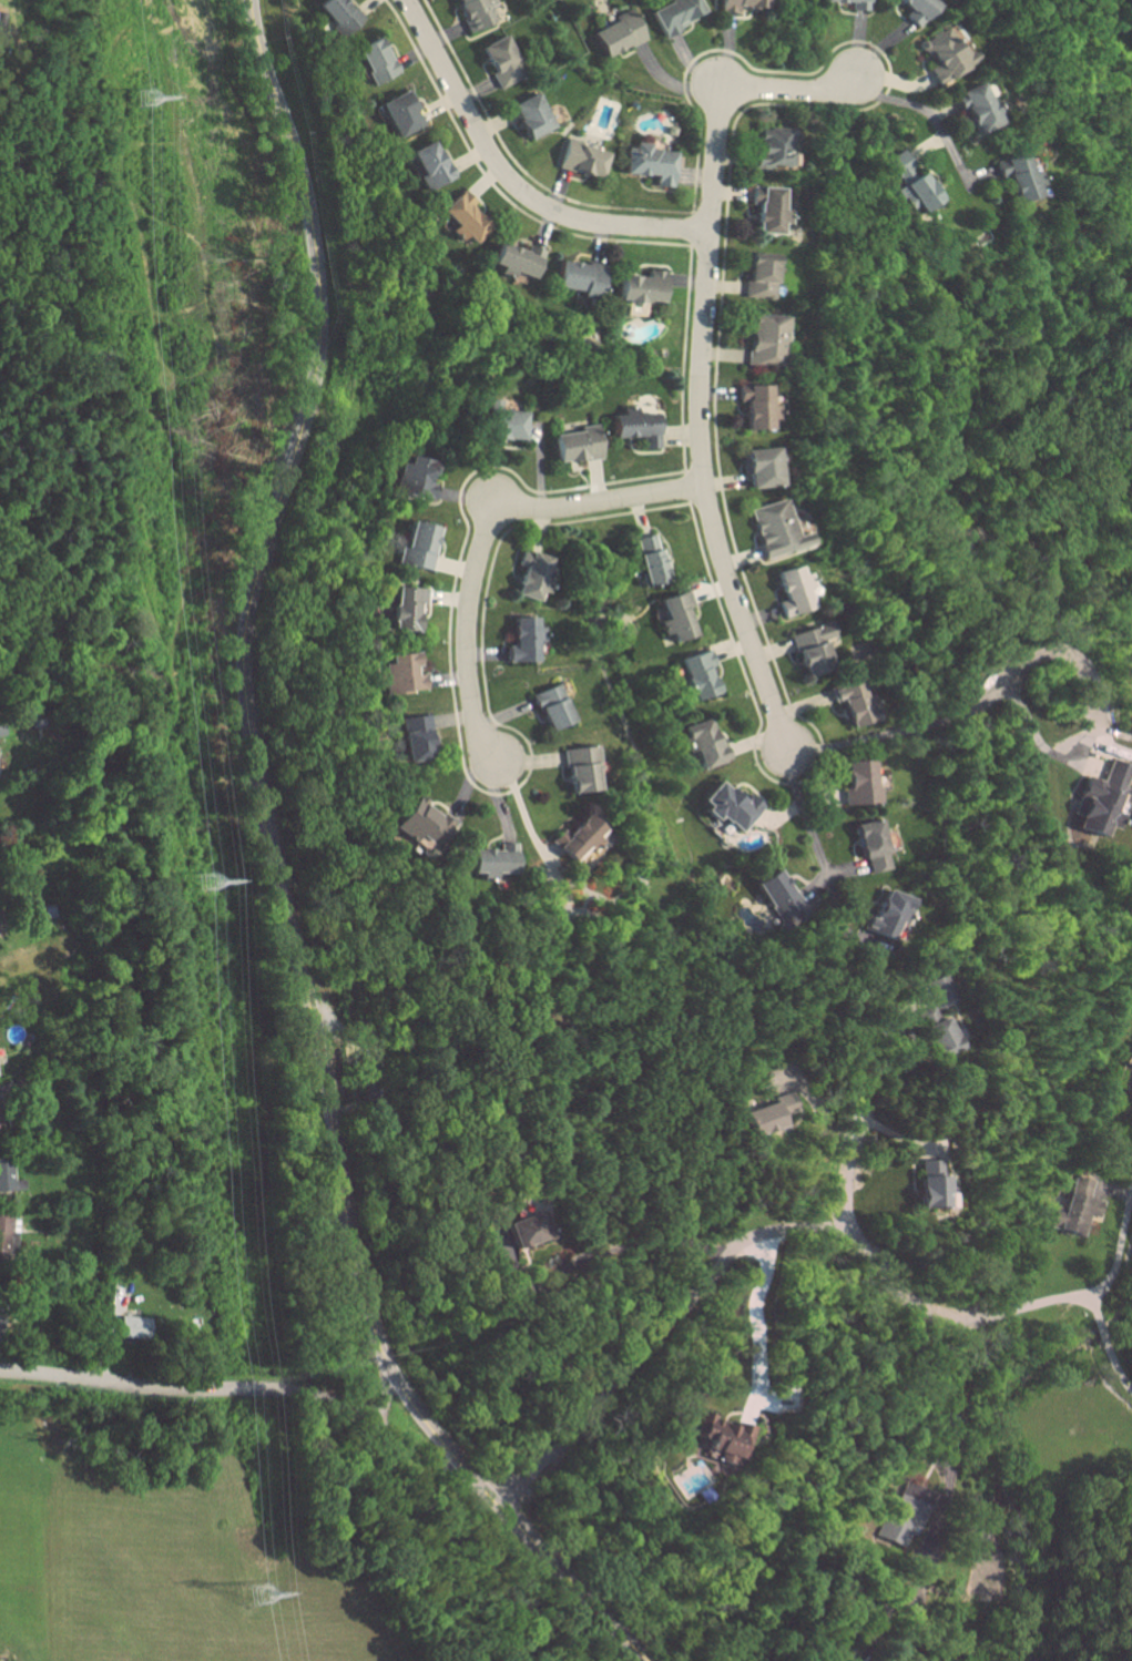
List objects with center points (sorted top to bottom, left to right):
building: (737, 3)
building: (859, 3)
building: (918, 9)
building: (479, 11)
building: (340, 13)
building: (675, 13)
building: (618, 33)
building: (947, 51)
building: (377, 59)
building: (502, 60)
power tower: (140, 100)
building: (977, 106)
building: (401, 112)
building: (532, 114)
road: (928, 116)
building: (657, 134)
building: (776, 146)
building: (583, 157)
building: (650, 162)
building: (431, 163)
road: (516, 163)
building: (1017, 175)
road: (510, 181)
building: (912, 181)
road: (492, 184)
building: (769, 207)
building: (466, 217)
road: (692, 228)
building: (518, 258)
building: (759, 275)
building: (580, 276)
building: (642, 286)
building: (766, 338)
road: (716, 339)
road: (682, 357)
road: (697, 357)
building: (757, 406)
building: (507, 424)
building: (636, 425)
building: (578, 444)
building: (758, 466)
building: (415, 478)
road: (686, 487)
building: (775, 528)
road: (482, 542)
building: (420, 543)
building: (651, 559)
building: (532, 575)
building: (793, 590)
building: (408, 607)
building: (677, 615)
building: (523, 639)
building: (813, 648)
building: (405, 674)
building: (700, 674)
building: (854, 701)
building: (552, 706)
road: (946, 719)
building: (0, 731)
building: (417, 736)
building: (705, 743)
building: (581, 770)
road: (466, 774)
building: (860, 781)
building: (732, 804)
building: (425, 823)
road: (812, 826)
building: (874, 836)
building: (582, 838)
building: (496, 859)
road: (276, 875)
power tower: (204, 882)
building: (781, 901)
building: (886, 915)
building: (939, 989)
building: (938, 1036)
building: (769, 1113)
road: (854, 1134)
building: (8, 1176)
building: (930, 1184)
building: (1075, 1207)
building: (530, 1230)
building: (2, 1232)
road: (757, 1237)
road: (1116, 1240)
road: (641, 1243)
building: (0, 1313)
road: (751, 1316)
building: (134, 1327)
road: (1115, 1337)
road: (244, 1388)
road: (377, 1398)
building: (942, 1426)
building: (901, 1514)
road: (133, 1541)
power tower: (259, 1593)
road: (953, 1618)

